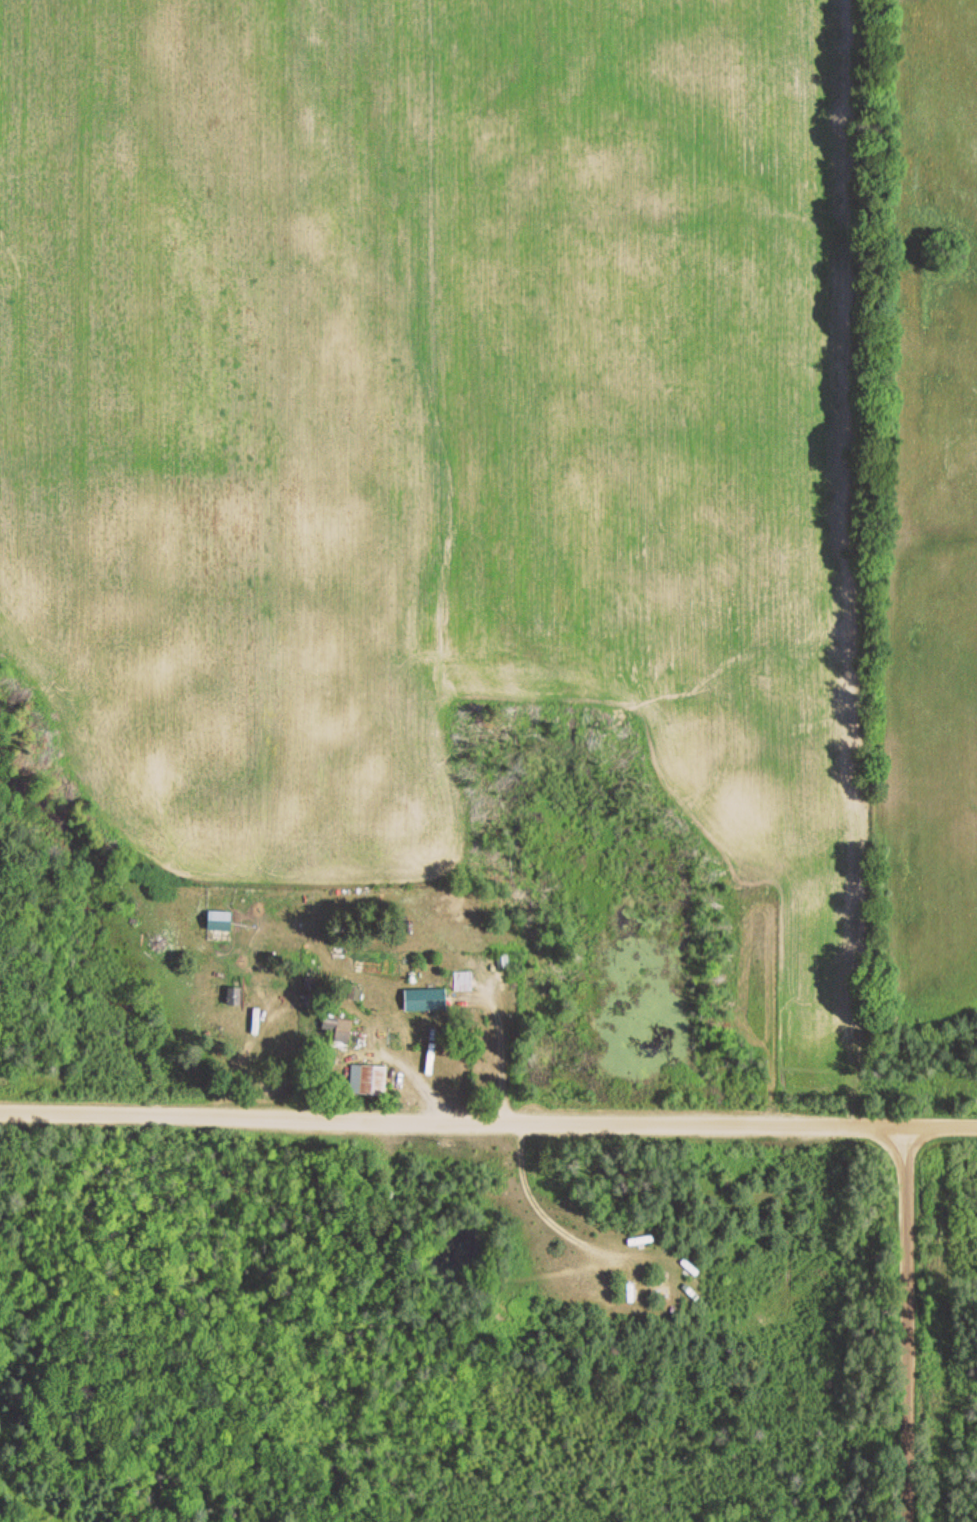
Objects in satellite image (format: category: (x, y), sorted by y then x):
crop: (435, 416)
crop: (934, 497)
building: (223, 922)
building: (428, 1002)
building: (342, 1028)
road: (488, 1117)
road: (900, 1323)

